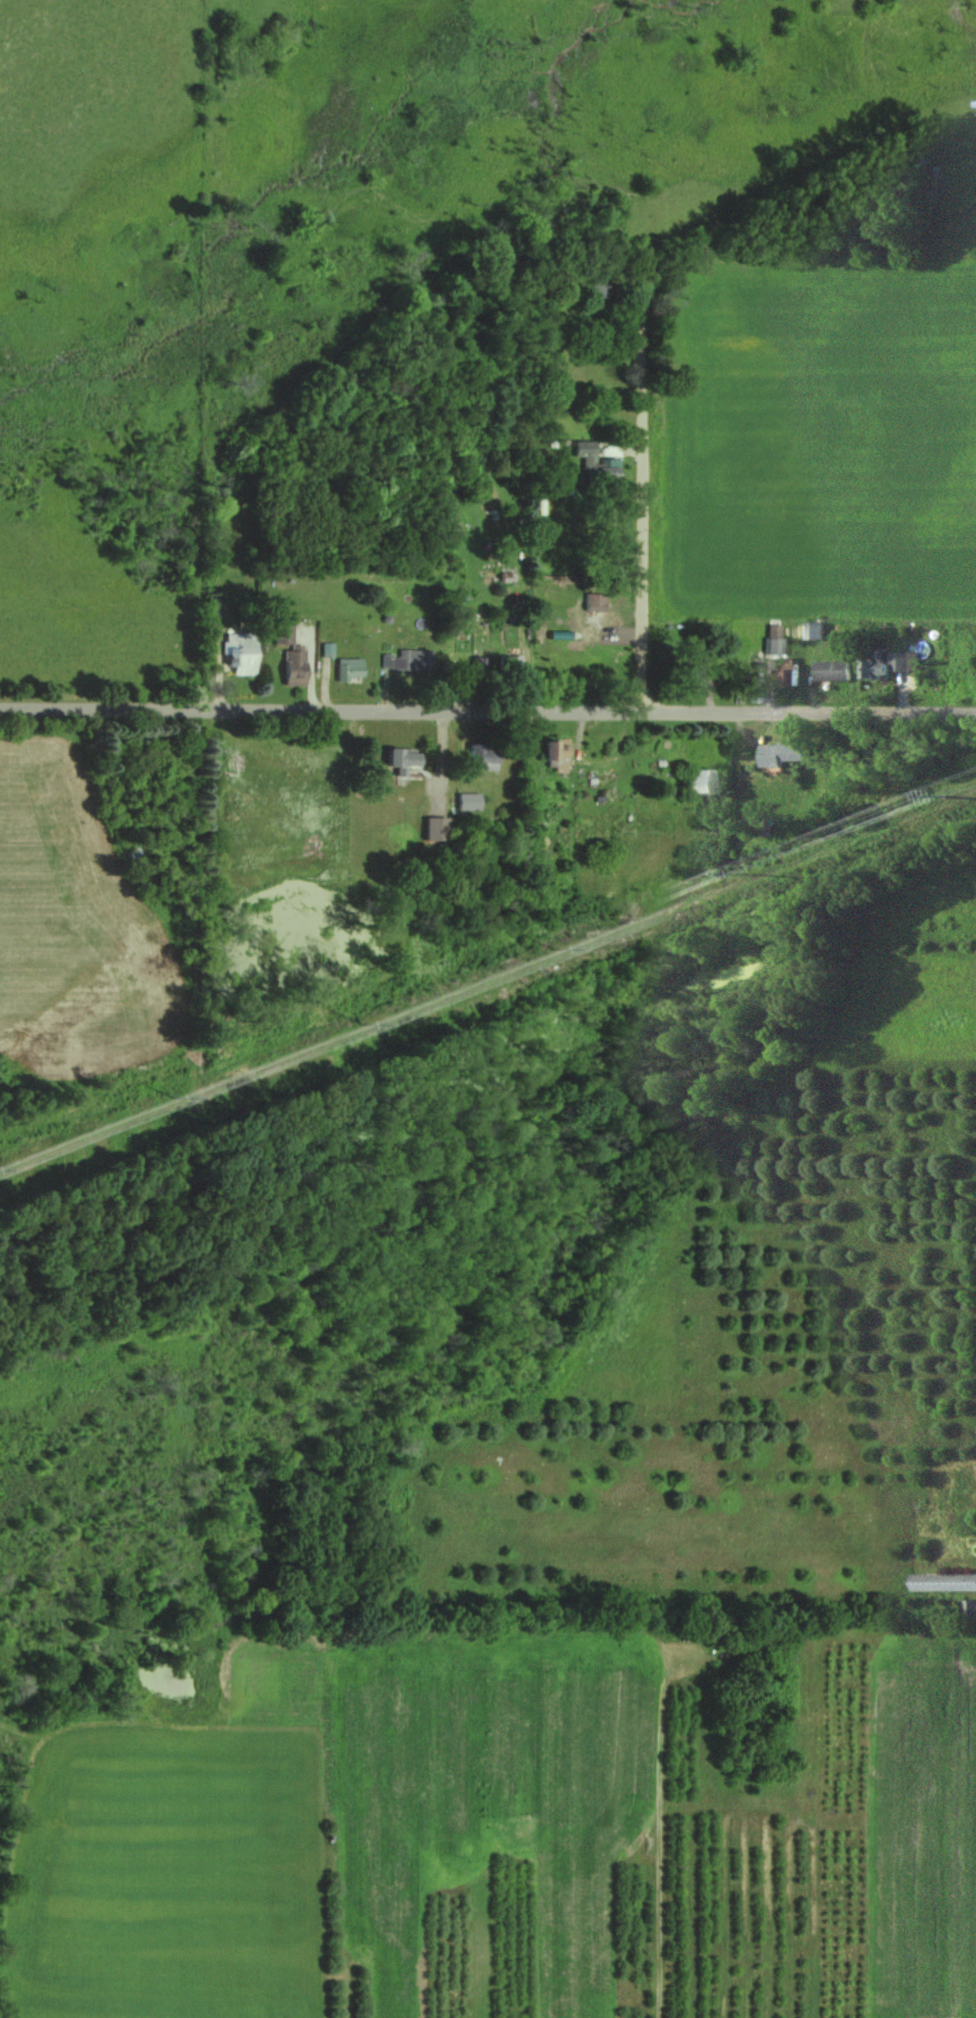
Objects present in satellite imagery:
building: (593, 287)
building: (599, 470)
road: (640, 496)
building: (590, 602)
building: (771, 630)
building: (811, 631)
building: (279, 633)
building: (235, 653)
building: (401, 660)
building: (290, 667)
building: (883, 667)
building: (345, 668)
building: (473, 669)
building: (506, 669)
building: (830, 671)
building: (690, 672)
building: (783, 673)
road: (487, 713)
building: (780, 754)
building: (550, 755)
building: (397, 758)
building: (695, 782)
building: (463, 801)
building: (942, 1583)
building: (969, 1610)

